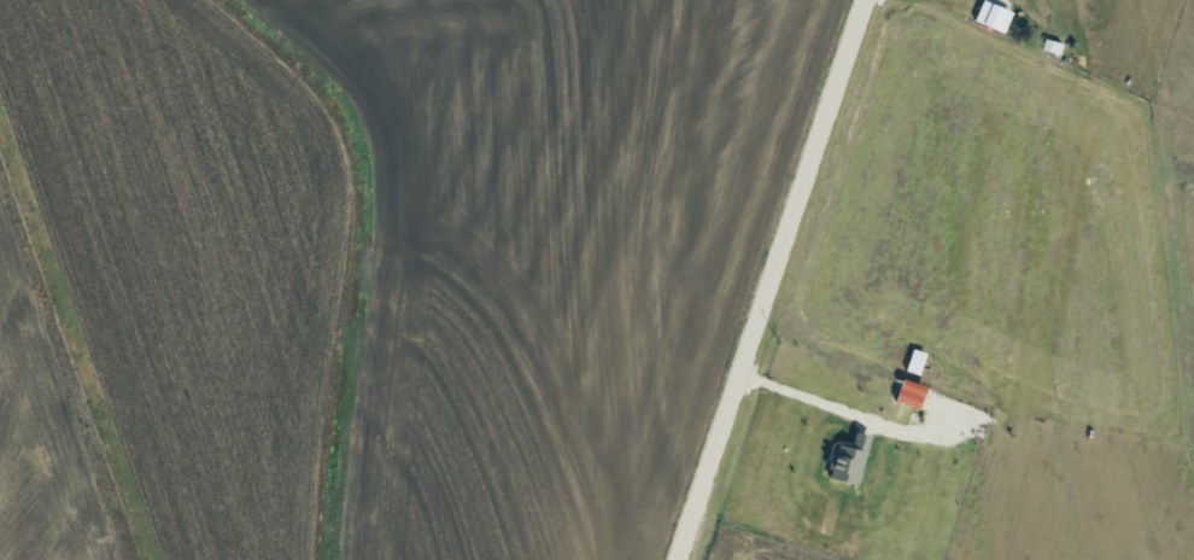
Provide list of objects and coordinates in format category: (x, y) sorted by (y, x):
building: (994, 14)
road: (772, 280)
road: (802, 396)
building: (909, 397)
building: (850, 459)

